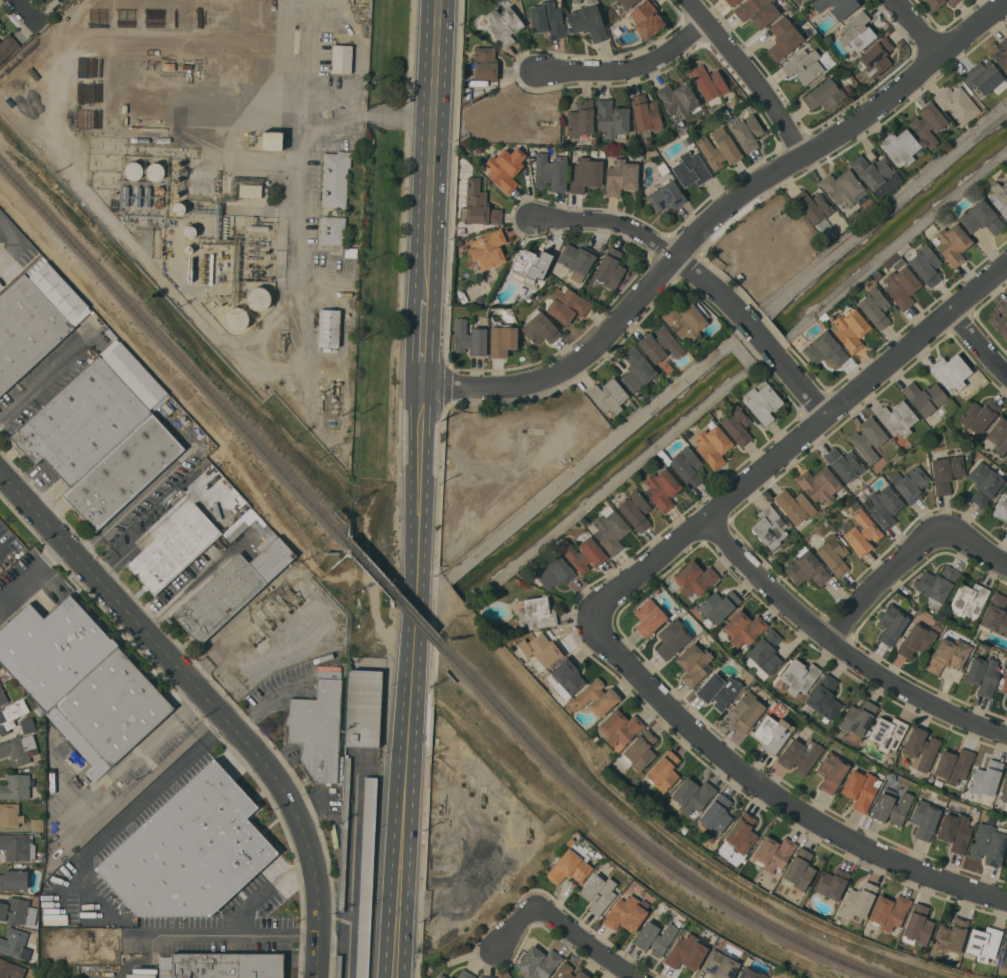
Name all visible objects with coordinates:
building: (63, 1)
building: (731, 2)
building: (951, 2)
building: (626, 3)
building: (934, 3)
road: (33, 5)
building: (836, 7)
building: (756, 11)
building: (646, 18)
building: (547, 19)
building: (587, 22)
building: (504, 24)
road: (916, 26)
building: (856, 31)
building: (783, 37)
building: (7, 46)
park: (387, 52)
building: (1001, 54)
building: (876, 56)
building: (341, 58)
building: (486, 63)
road: (629, 64)
building: (808, 64)
building: (168, 65)
building: (187, 66)
road: (748, 75)
building: (984, 78)
building: (708, 84)
building: (824, 94)
building: (678, 101)
building: (956, 103)
building: (124, 108)
road: (343, 112)
building: (645, 113)
building: (581, 118)
building: (612, 119)
building: (927, 123)
building: (747, 131)
road: (297, 138)
building: (271, 140)
building: (900, 146)
building: (719, 148)
road: (433, 149)
building: (177, 164)
building: (505, 167)
building: (691, 169)
building: (133, 170)
storage tank: (133, 170)
building: (872, 170)
building: (154, 171)
storage tank: (154, 171)
building: (550, 172)
building: (585, 174)
building: (620, 177)
building: (335, 178)
building: (176, 179)
building: (842, 187)
building: (159, 190)
building: (250, 190)
building: (175, 194)
building: (125, 195)
building: (138, 196)
building: (147, 196)
building: (666, 196)
building: (1000, 197)
building: (158, 203)
building: (478, 205)
building: (812, 205)
building: (178, 208)
storage tank: (178, 208)
road: (714, 212)
petroleum well: (777, 213)
road: (879, 217)
building: (980, 217)
building: (258, 227)
building: (332, 230)
building: (189, 231)
storage tank: (189, 231)
road: (651, 240)
building: (951, 243)
road: (12, 245)
building: (187, 248)
building: (488, 249)
building: (577, 258)
building: (925, 264)
building: (532, 265)
building: (609, 268)
building: (901, 286)
building: (258, 298)
storage tank: (258, 298)
park: (375, 301)
building: (566, 304)
building: (875, 307)
building: (34, 318)
building: (236, 318)
storage tank: (236, 318)
building: (686, 319)
building: (1001, 321)
building: (328, 327)
building: (539, 327)
building: (849, 328)
building: (110, 334)
road: (761, 337)
building: (469, 338)
building: (501, 340)
petroleum well: (282, 342)
road: (425, 343)
building: (660, 345)
road: (977, 346)
building: (824, 349)
railway: (174, 350)
building: (636, 369)
road: (44, 371)
building: (951, 371)
road: (803, 385)
building: (608, 395)
building: (924, 397)
building: (763, 402)
building: (90, 414)
building: (979, 415)
building: (897, 418)
building: (736, 424)
building: (998, 435)
building: (868, 438)
road: (797, 441)
building: (712, 444)
road: (421, 450)
road: (583, 458)
building: (844, 463)
building: (686, 465)
building: (123, 471)
building: (946, 472)
building: (984, 482)
building: (910, 483)
building: (819, 484)
building: (661, 488)
road: (146, 489)
building: (883, 505)
building: (794, 506)
building: (1000, 507)
building: (635, 510)
building: (1006, 525)
building: (769, 527)
building: (610, 529)
road: (149, 530)
building: (235, 530)
building: (862, 532)
road: (973, 544)
building: (173, 548)
building: (583, 554)
building: (833, 554)
building: (807, 568)
road: (32, 572)
building: (554, 572)
building: (694, 578)
road: (877, 581)
building: (937, 585)
road: (186, 589)
building: (230, 589)
railway: (395, 592)
petroleum well: (293, 595)
building: (968, 600)
petroleum well: (284, 604)
building: (717, 606)
building: (537, 613)
building: (995, 616)
building: (648, 617)
petroleum well: (268, 623)
building: (891, 623)
building: (743, 627)
building: (672, 638)
petroleum well: (258, 639)
building: (916, 640)
road: (840, 648)
building: (53, 649)
building: (541, 650)
building: (764, 654)
building: (947, 655)
building: (694, 663)
building: (983, 674)
building: (799, 676)
building: (565, 677)
building: (1, 680)
building: (1004, 683)
building: (719, 689)
building: (3, 696)
building: (824, 696)
building: (596, 697)
road: (212, 699)
building: (1006, 703)
building: (363, 707)
building: (38, 710)
building: (109, 711)
building: (747, 711)
building: (11, 715)
building: (858, 717)
building: (27, 724)
building: (318, 727)
building: (619, 727)
building: (887, 732)
building: (772, 733)
road: (206, 742)
road: (406, 745)
building: (920, 748)
building: (18, 750)
building: (639, 751)
building: (800, 755)
building: (953, 764)
building: (663, 771)
building: (831, 771)
building: (986, 778)
building: (15, 786)
building: (1004, 788)
building: (860, 789)
building: (692, 795)
road: (777, 795)
petroleum well: (483, 796)
building: (969, 796)
building: (984, 800)
building: (891, 806)
building: (716, 814)
building: (10, 815)
building: (924, 818)
building: (36, 824)
petroleum well: (529, 830)
building: (954, 832)
building: (742, 833)
railway: (640, 841)
building: (989, 843)
building: (17, 846)
building: (183, 851)
building: (774, 853)
building: (572, 861)
building: (799, 869)
building: (366, 877)
building: (13, 879)
road: (270, 883)
building: (831, 883)
building: (598, 892)
building: (857, 903)
building: (14, 910)
building: (889, 911)
building: (626, 913)
road: (92, 922)
building: (918, 924)
road: (516, 931)
building: (1006, 931)
building: (951, 935)
building: (654, 937)
petroleum well: (89, 938)
building: (13, 941)
building: (983, 942)
road: (588, 943)
building: (685, 952)
building: (1004, 960)
building: (538, 962)
building: (719, 964)
building: (221, 965)
building: (10, 969)
building: (568, 972)
building: (751, 972)
building: (465, 974)
building: (440, 976)
building: (487, 976)
building: (451, 977)

